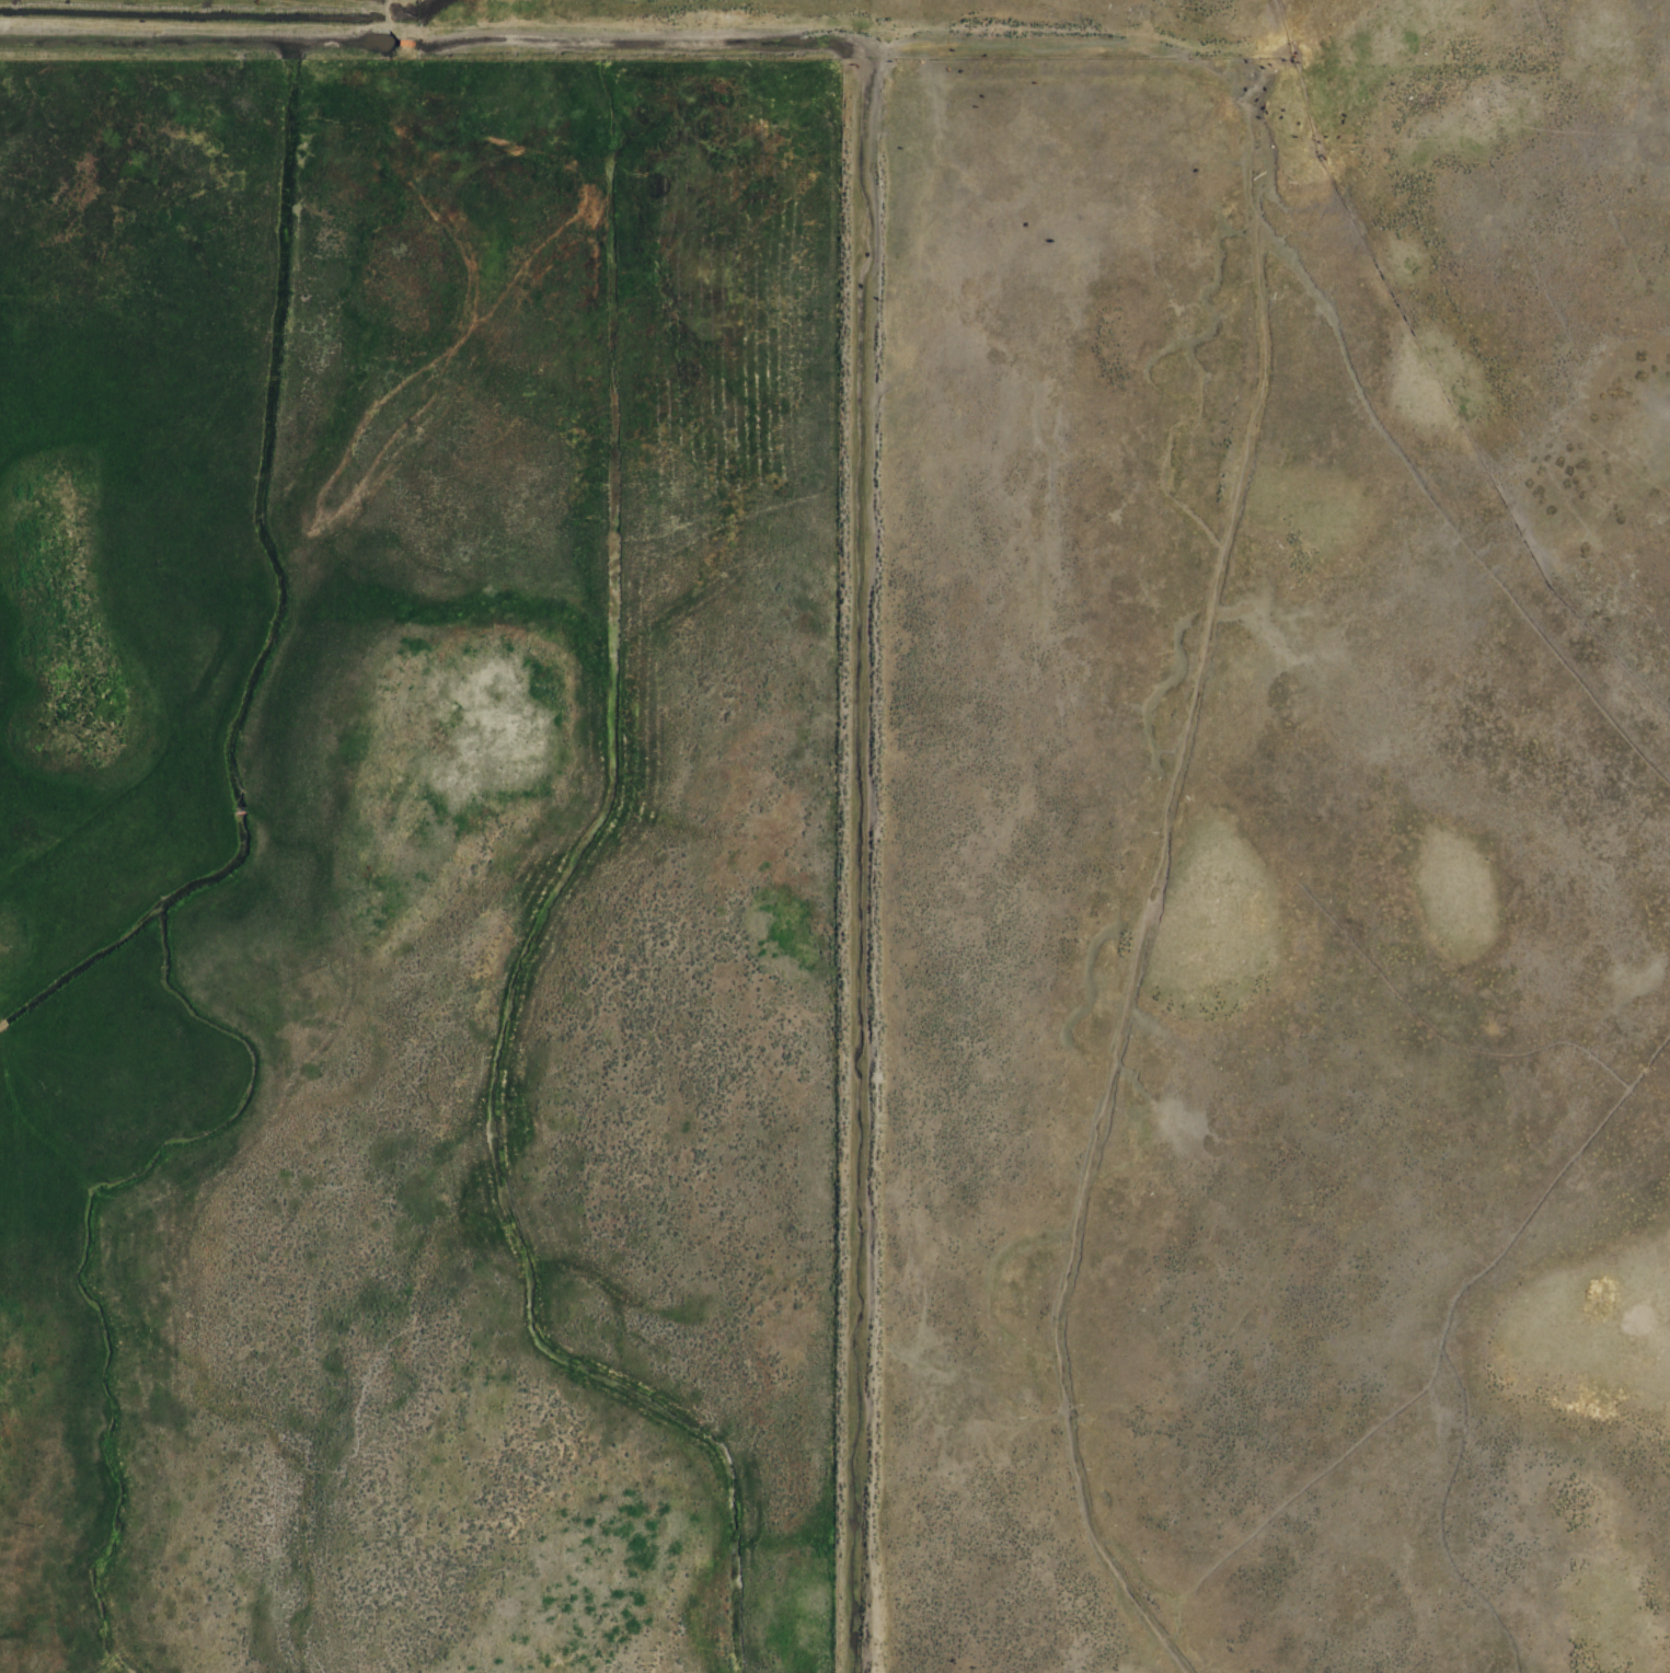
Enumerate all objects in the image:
crop: (189, 23)
crop: (839, 841)

